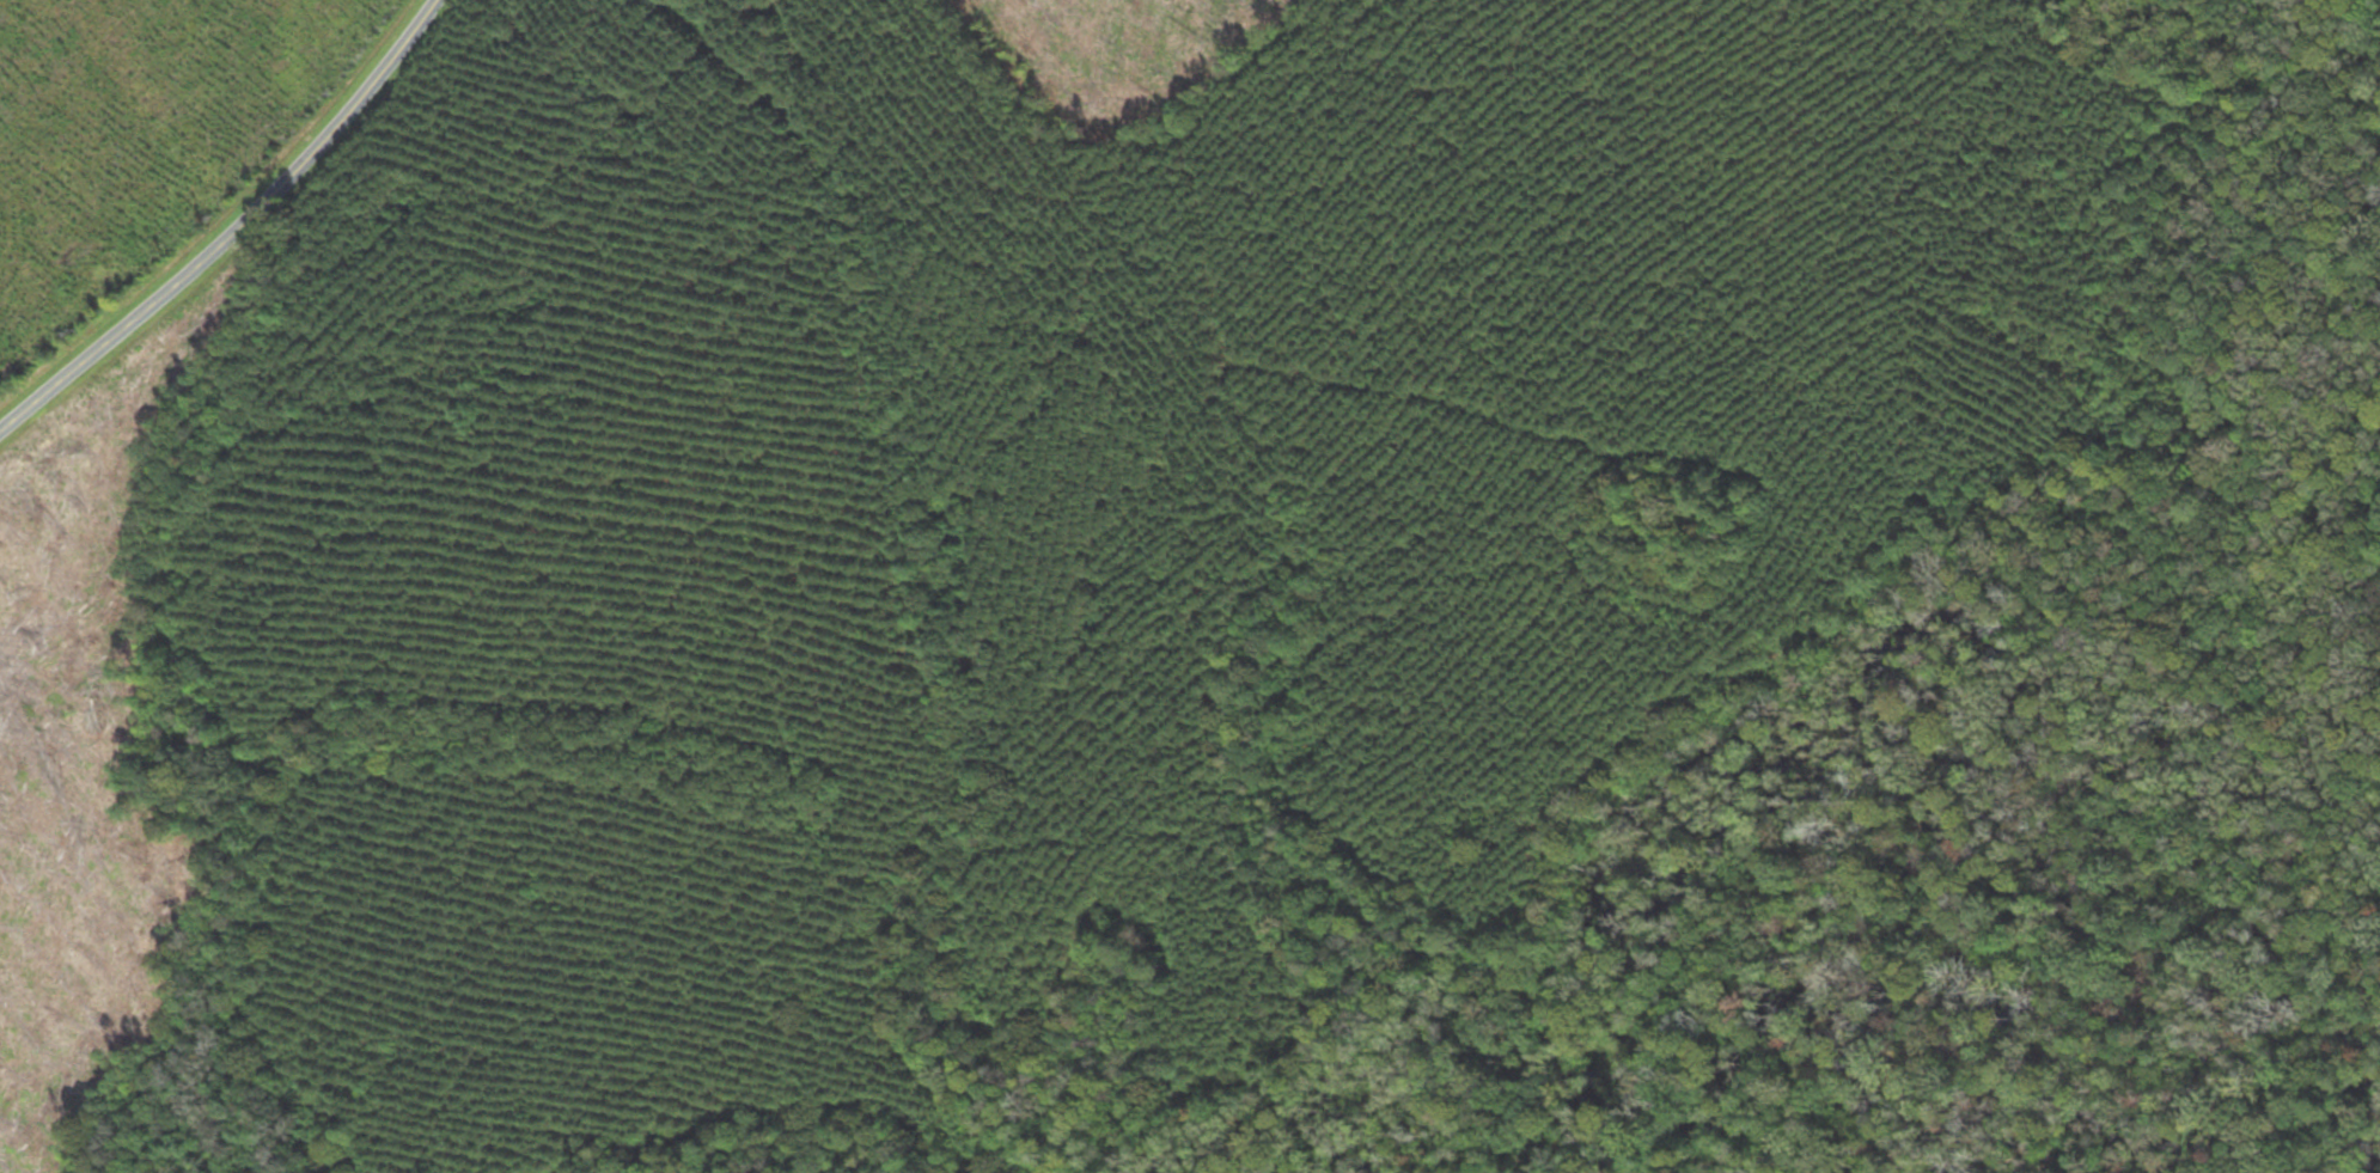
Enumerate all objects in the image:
road: (231, 226)

